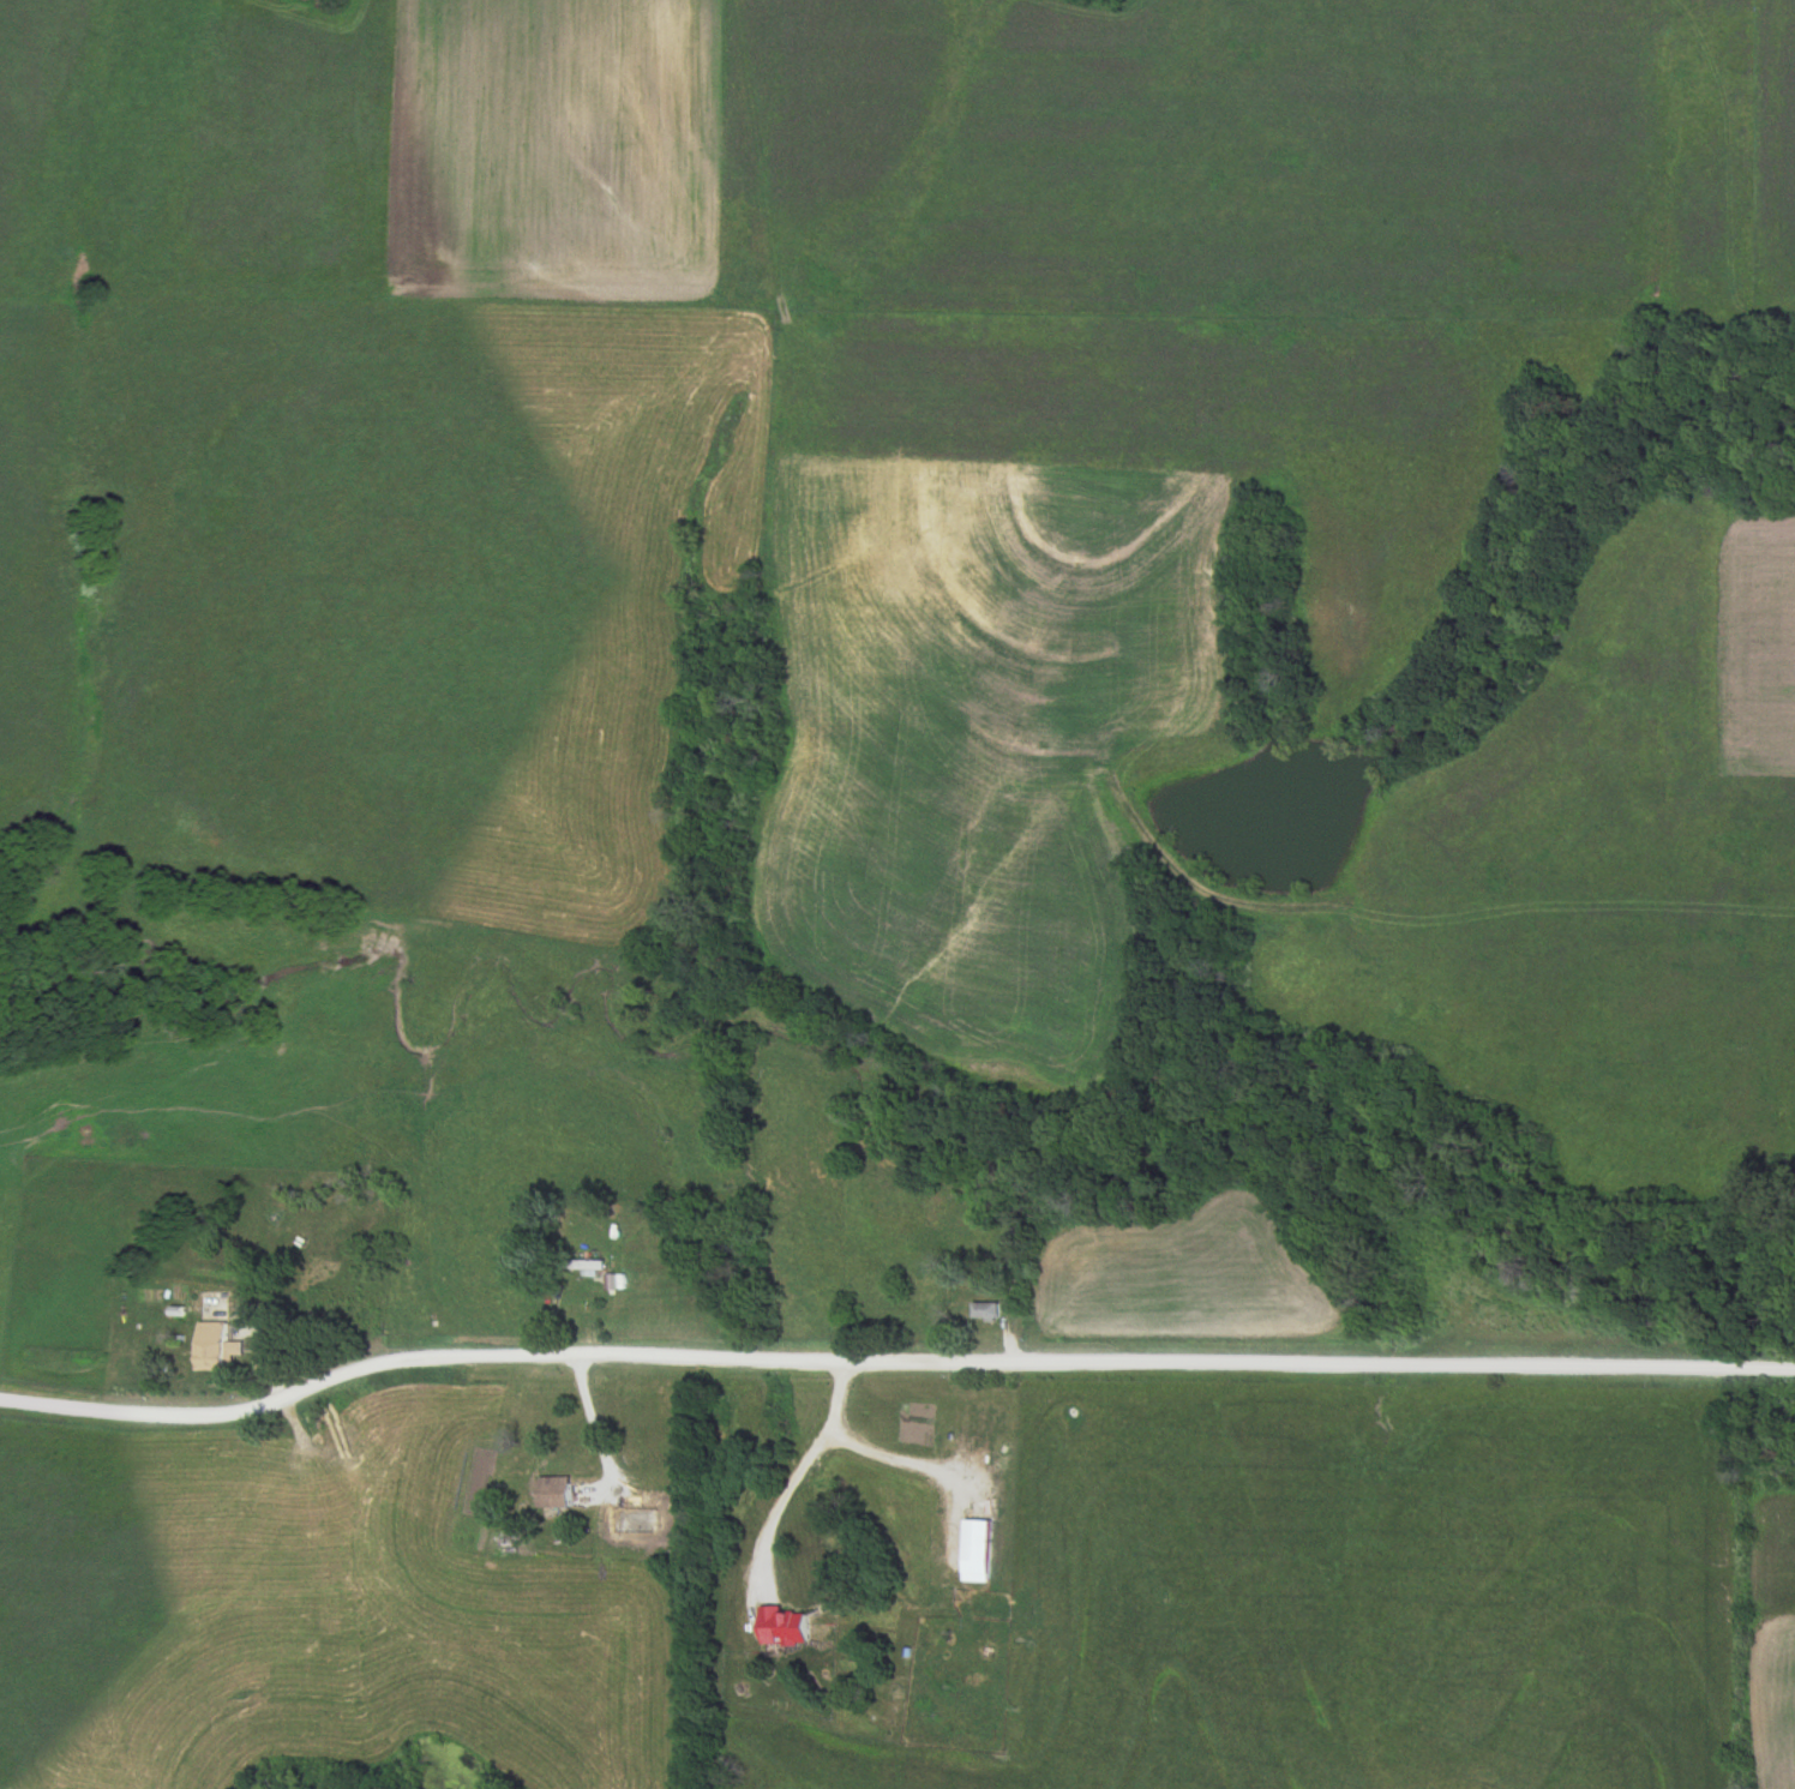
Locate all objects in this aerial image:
building: (986, 1313)
building: (215, 1346)
road: (893, 1368)
road: (595, 1421)
road: (902, 1458)
road: (800, 1465)
building: (556, 1494)
building: (505, 1541)
building: (977, 1542)
building: (785, 1626)

